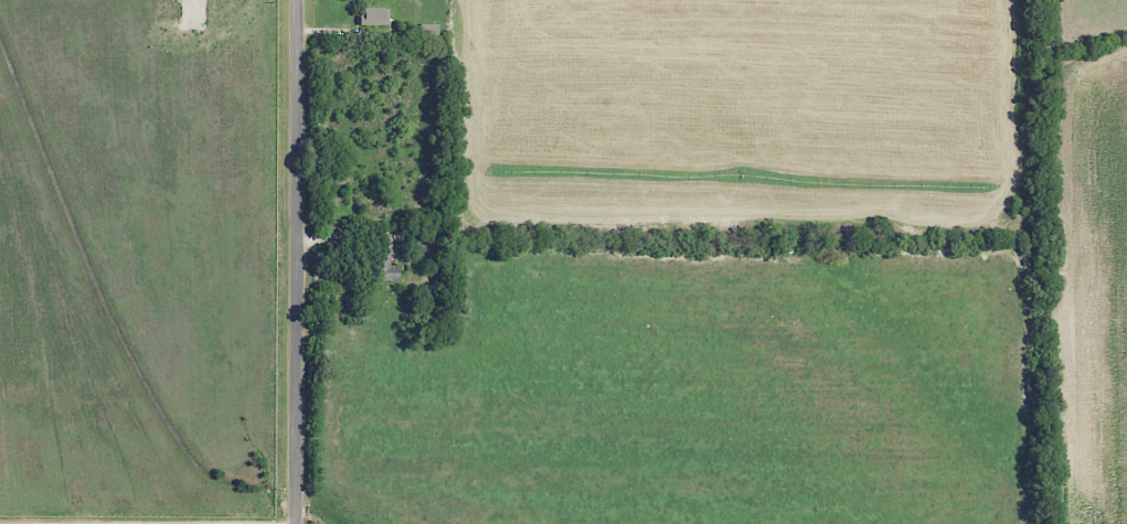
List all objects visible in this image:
building: (375, 15)
crop: (740, 115)
road: (295, 261)
building: (384, 266)
crop: (1089, 281)

